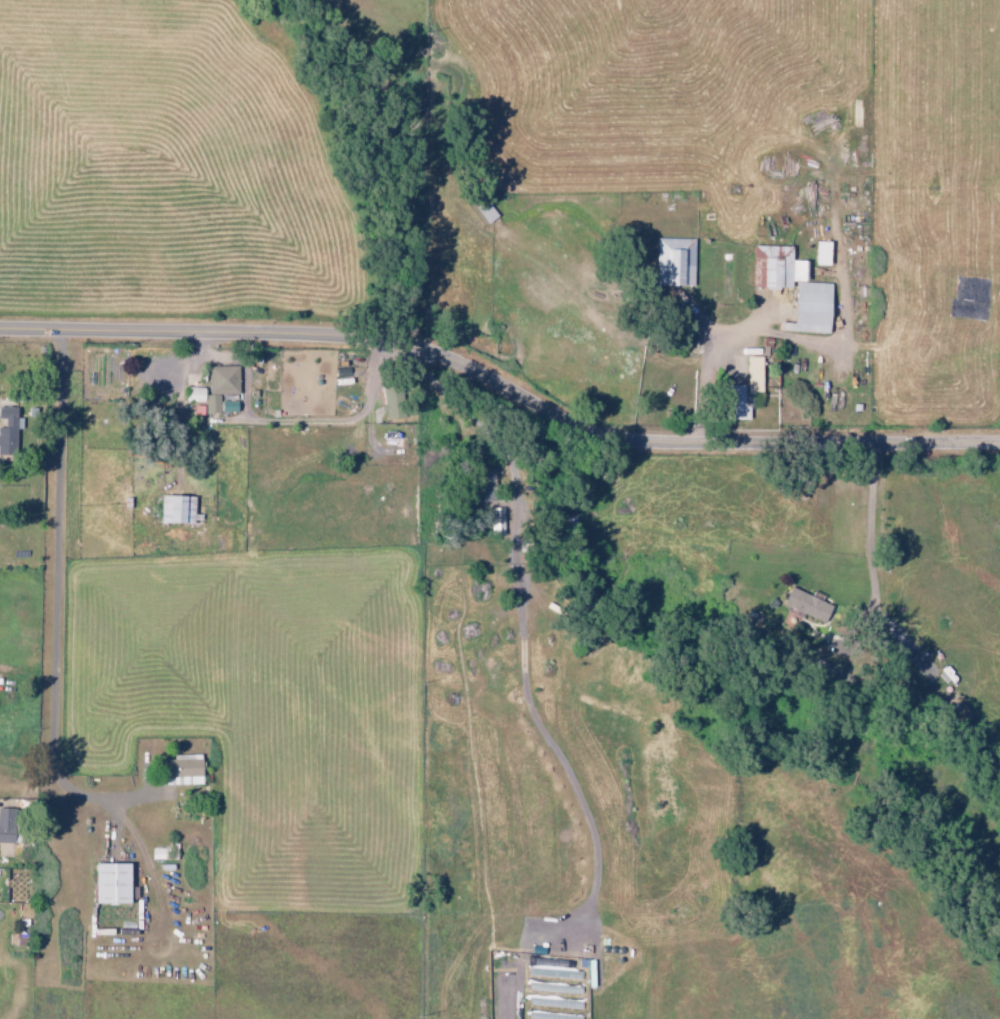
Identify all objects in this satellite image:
building: (818, 253)
building: (672, 262)
building: (158, 380)
road: (501, 385)
building: (222, 386)
building: (739, 392)
building: (999, 393)
building: (10, 430)
building: (180, 508)
building: (495, 519)
road: (60, 598)
building: (804, 604)
building: (185, 770)
building: (8, 825)
building: (114, 883)

